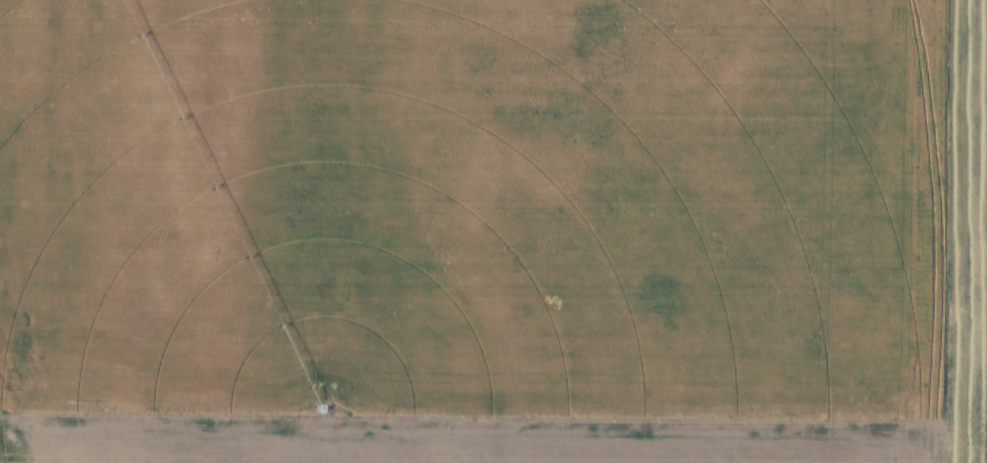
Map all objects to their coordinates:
crop: (468, 202)
crop: (966, 232)
crop: (500, 434)
crop: (2, 458)

